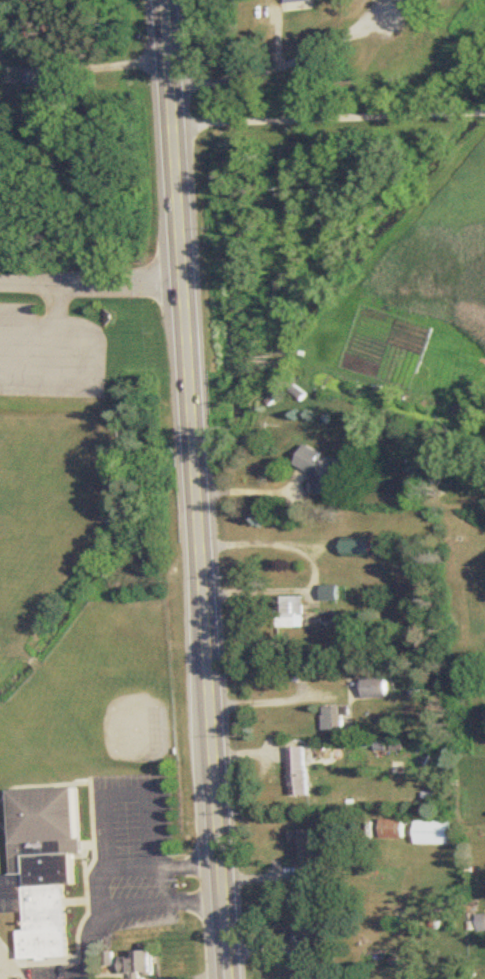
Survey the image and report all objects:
building: (294, 2)
road: (115, 65)
road: (281, 65)
building: (35, 77)
building: (66, 100)
road: (329, 117)
road: (123, 280)
road: (30, 281)
road: (32, 325)
road: (100, 366)
building: (324, 472)
road: (199, 489)
road: (255, 490)
building: (361, 548)
road: (315, 569)
building: (332, 593)
building: (289, 607)
building: (376, 688)
road: (270, 702)
building: (336, 718)
building: (300, 772)
road: (135, 792)
building: (433, 833)
building: (305, 851)
building: (44, 868)
road: (146, 908)
building: (313, 931)
road: (91, 943)
building: (139, 965)

